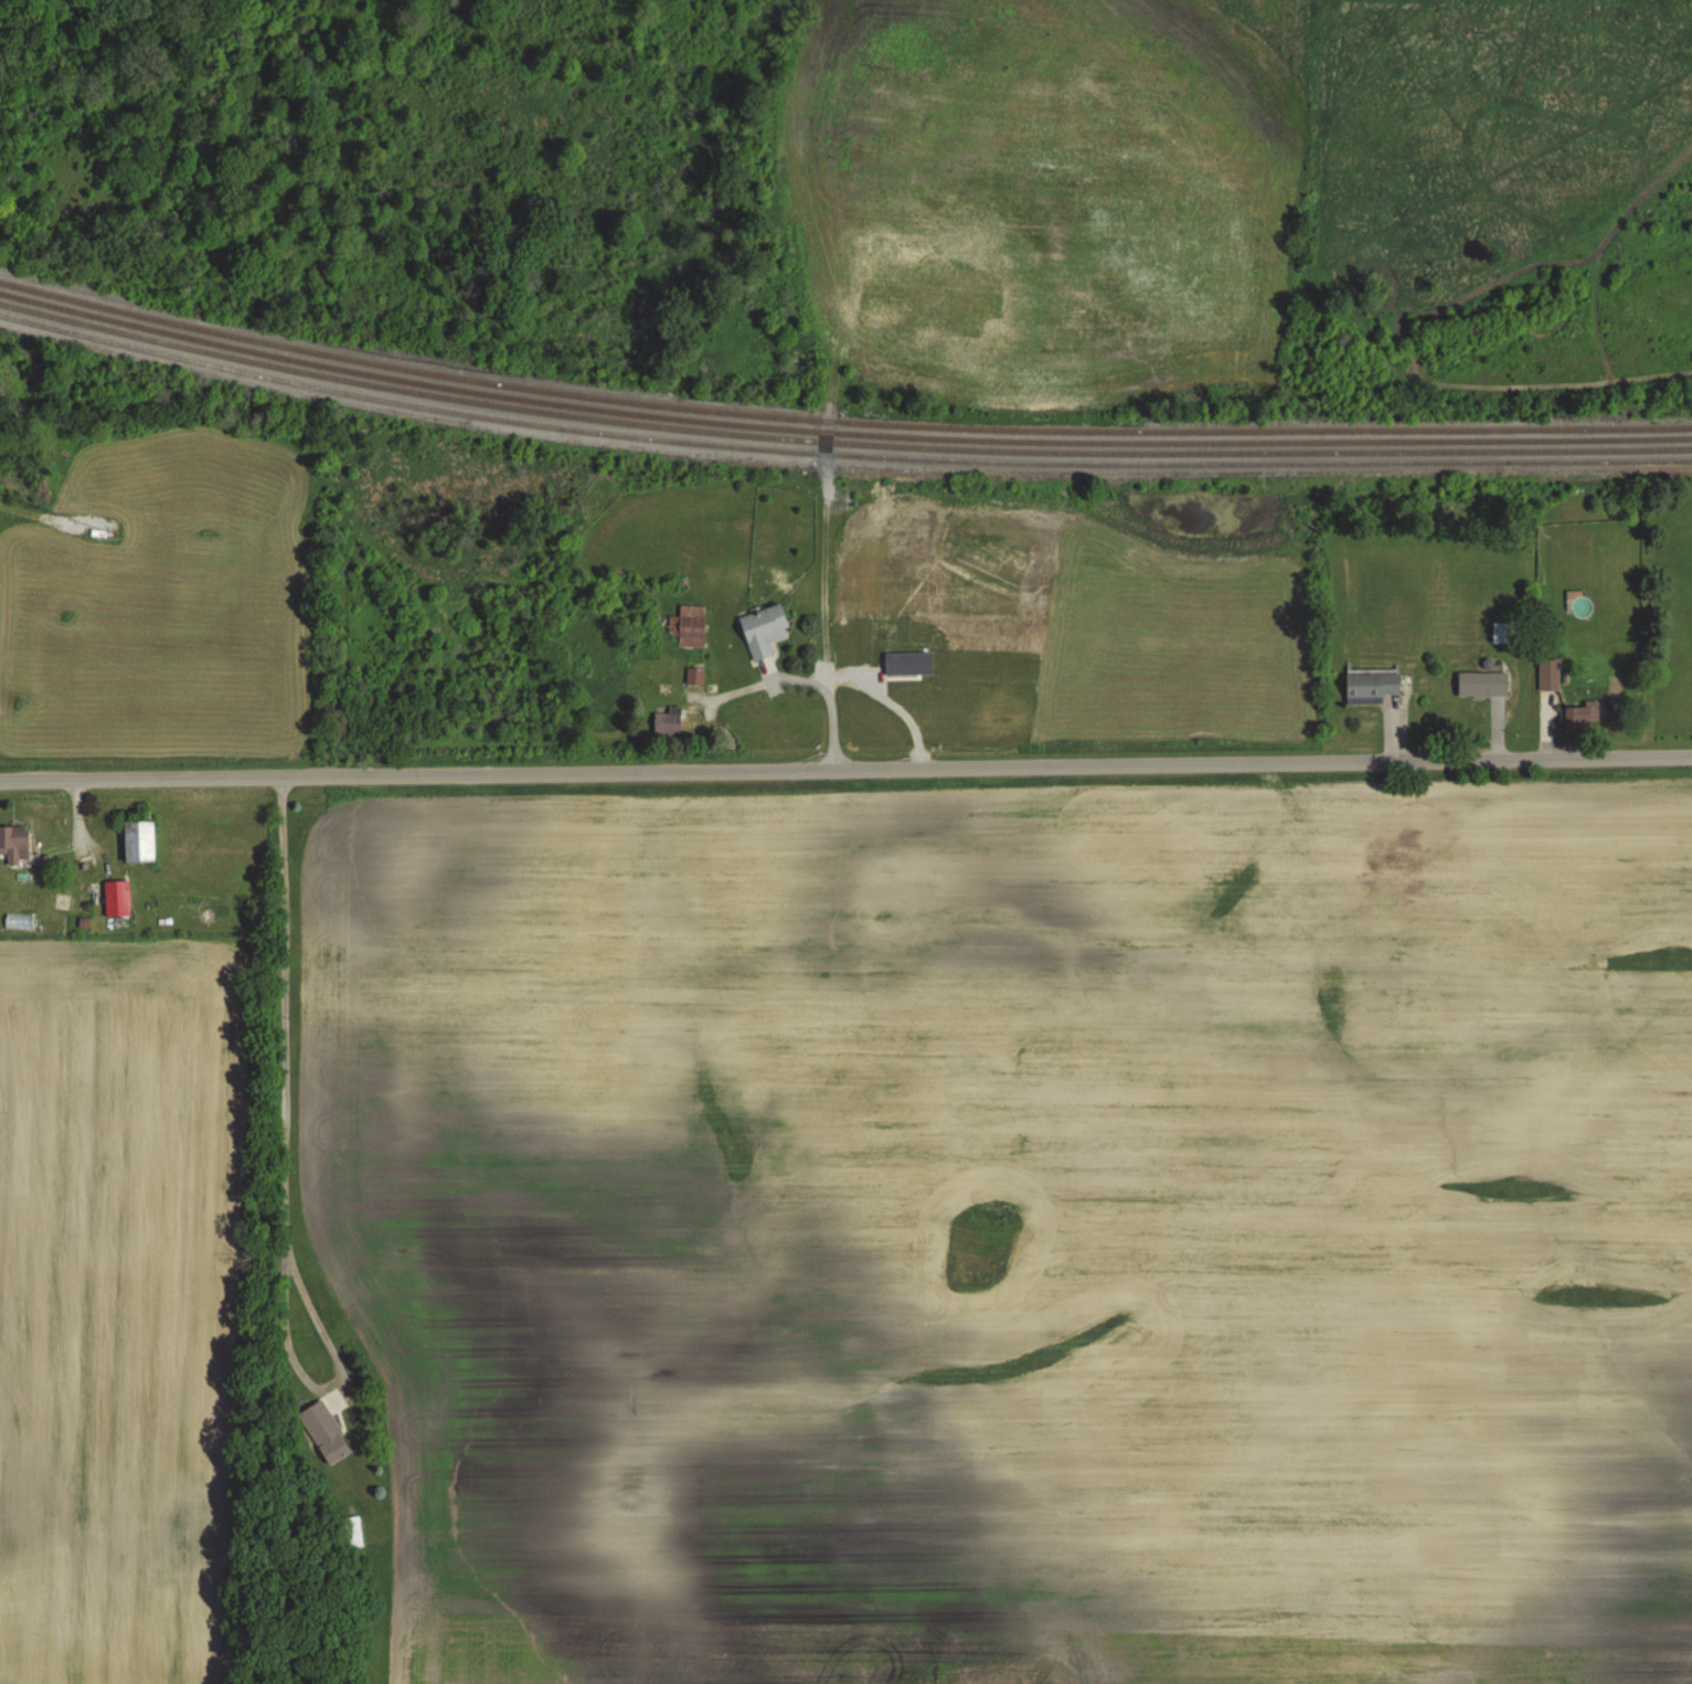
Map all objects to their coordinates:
railway: (839, 425)
railway: (839, 434)
railway: (839, 444)
railway: (839, 456)
building: (688, 627)
building: (763, 632)
building: (1505, 633)
road: (828, 637)
building: (1549, 675)
building: (694, 677)
building: (1481, 685)
road: (762, 687)
building: (1370, 687)
building: (1582, 719)
building: (667, 722)
road: (1496, 760)
road: (649, 773)
building: (137, 844)
building: (13, 845)
building: (108, 900)
road: (284, 1164)
building: (324, 1432)

